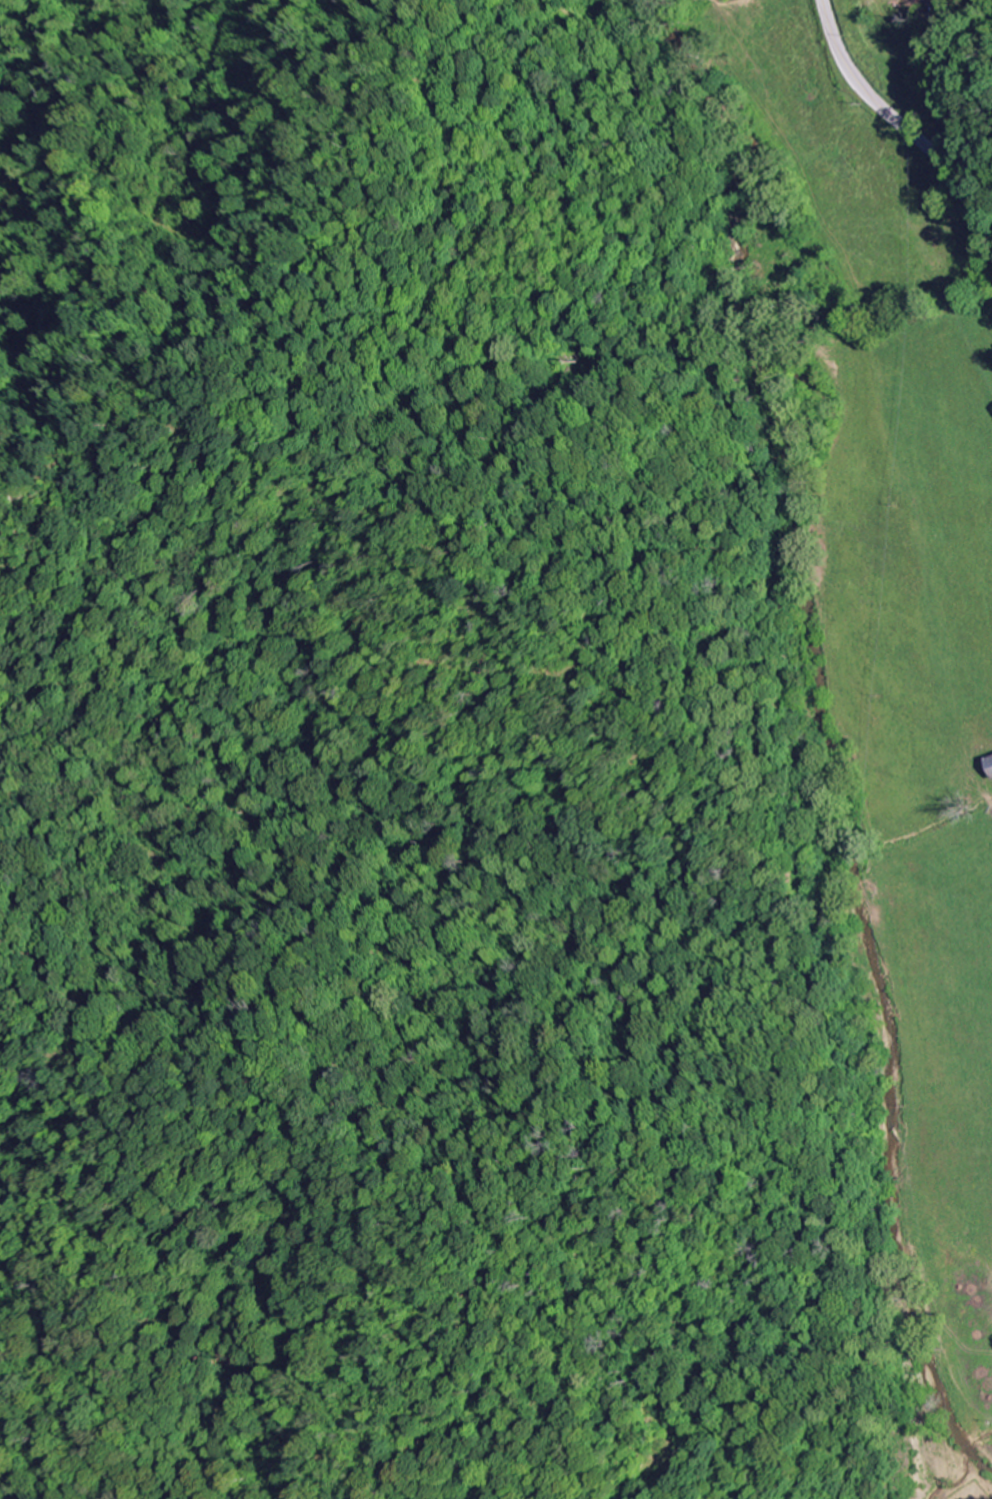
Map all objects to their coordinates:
road: (902, 122)

